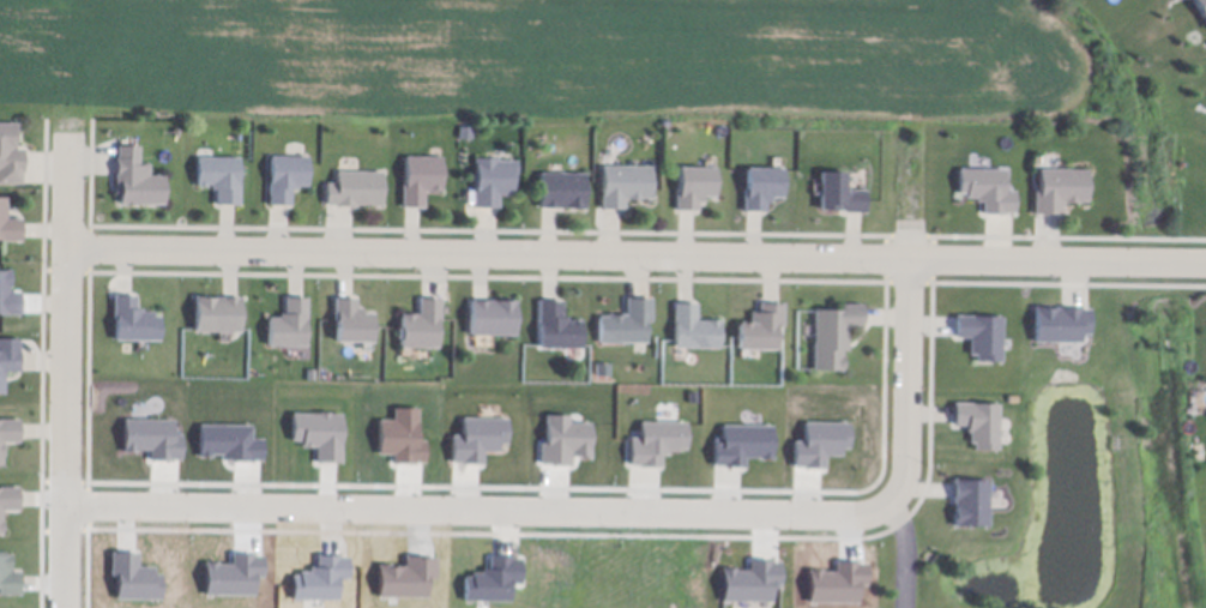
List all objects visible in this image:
building: (1201, 7)
crop: (549, 54)
building: (464, 127)
building: (10, 148)
building: (219, 170)
building: (285, 170)
building: (420, 171)
building: (135, 173)
building: (493, 174)
building: (625, 179)
building: (694, 180)
building: (761, 180)
building: (985, 181)
building: (1059, 182)
building: (354, 183)
building: (561, 185)
building: (838, 185)
building: (8, 218)
road: (635, 258)
building: (8, 289)
building: (217, 308)
building: (492, 311)
building: (134, 314)
building: (351, 314)
building: (626, 317)
building: (289, 318)
building: (421, 319)
building: (557, 320)
building: (694, 321)
building: (761, 321)
building: (1060, 325)
building: (833, 329)
road: (905, 333)
building: (979, 336)
building: (8, 354)
road: (68, 371)
building: (978, 425)
building: (8, 428)
building: (8, 495)
building: (969, 502)
road: (489, 507)
road: (902, 558)
building: (8, 571)

